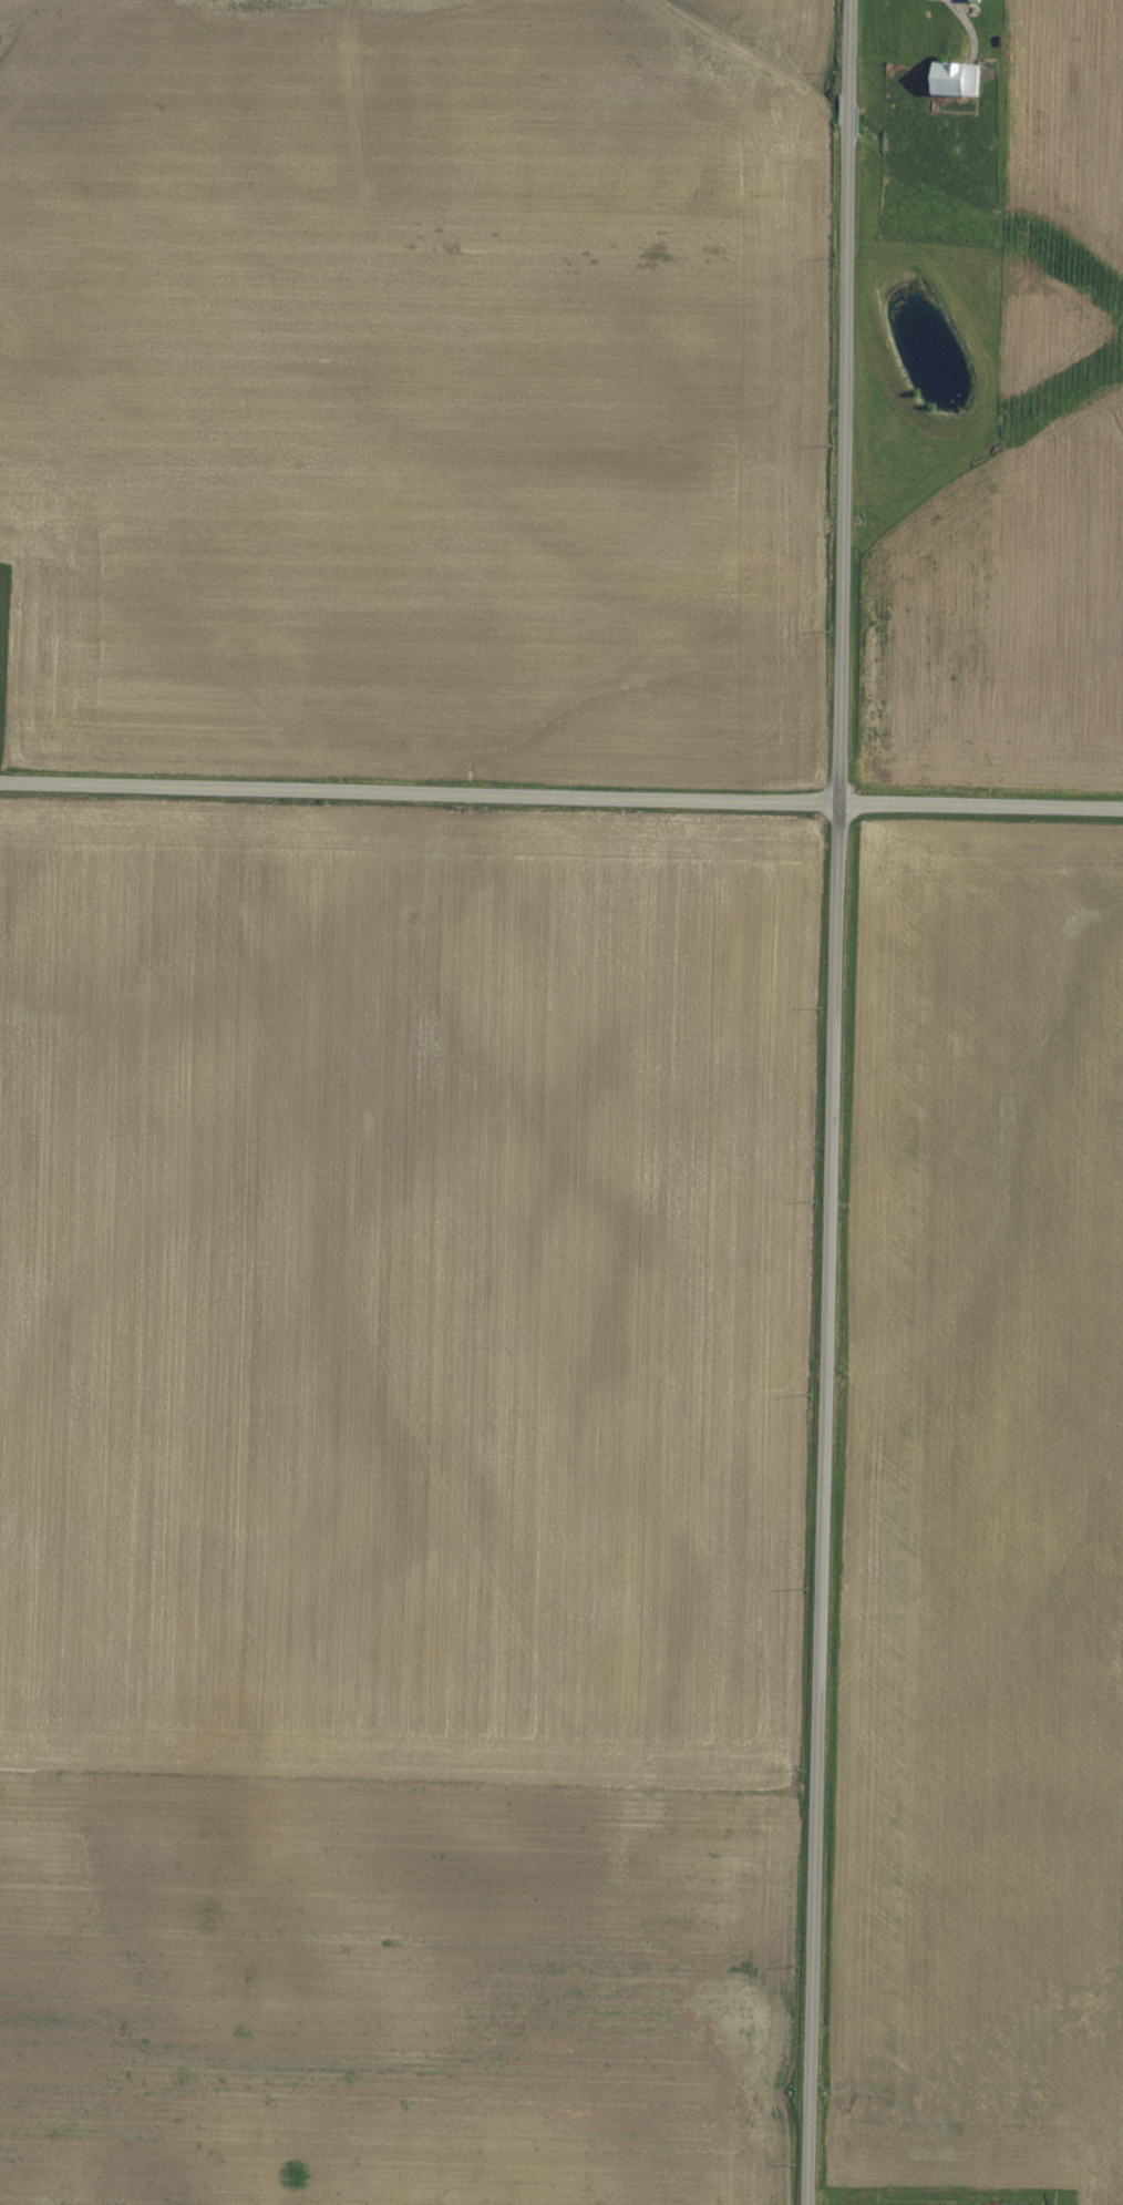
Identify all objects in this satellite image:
road: (966, 16)
road: (560, 797)
road: (828, 1102)

